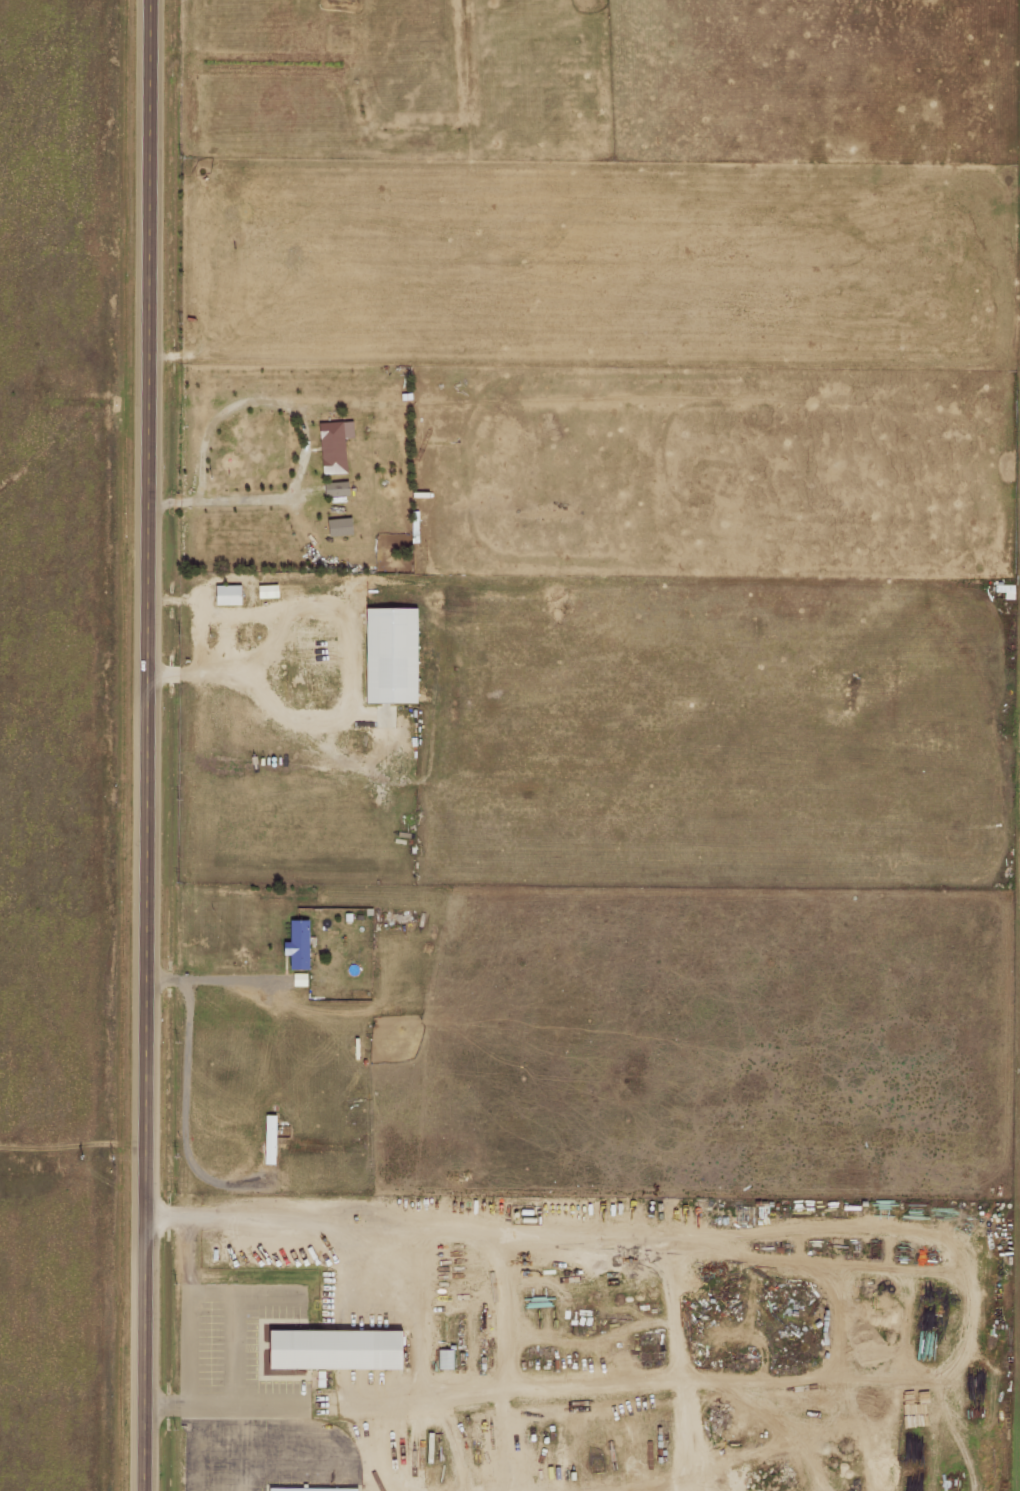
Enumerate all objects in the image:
building: (333, 445)
building: (337, 525)
building: (266, 590)
building: (225, 593)
building: (388, 654)
road: (151, 745)
building: (296, 944)
building: (267, 1138)
building: (333, 1349)
building: (444, 1358)
building: (310, 1489)

